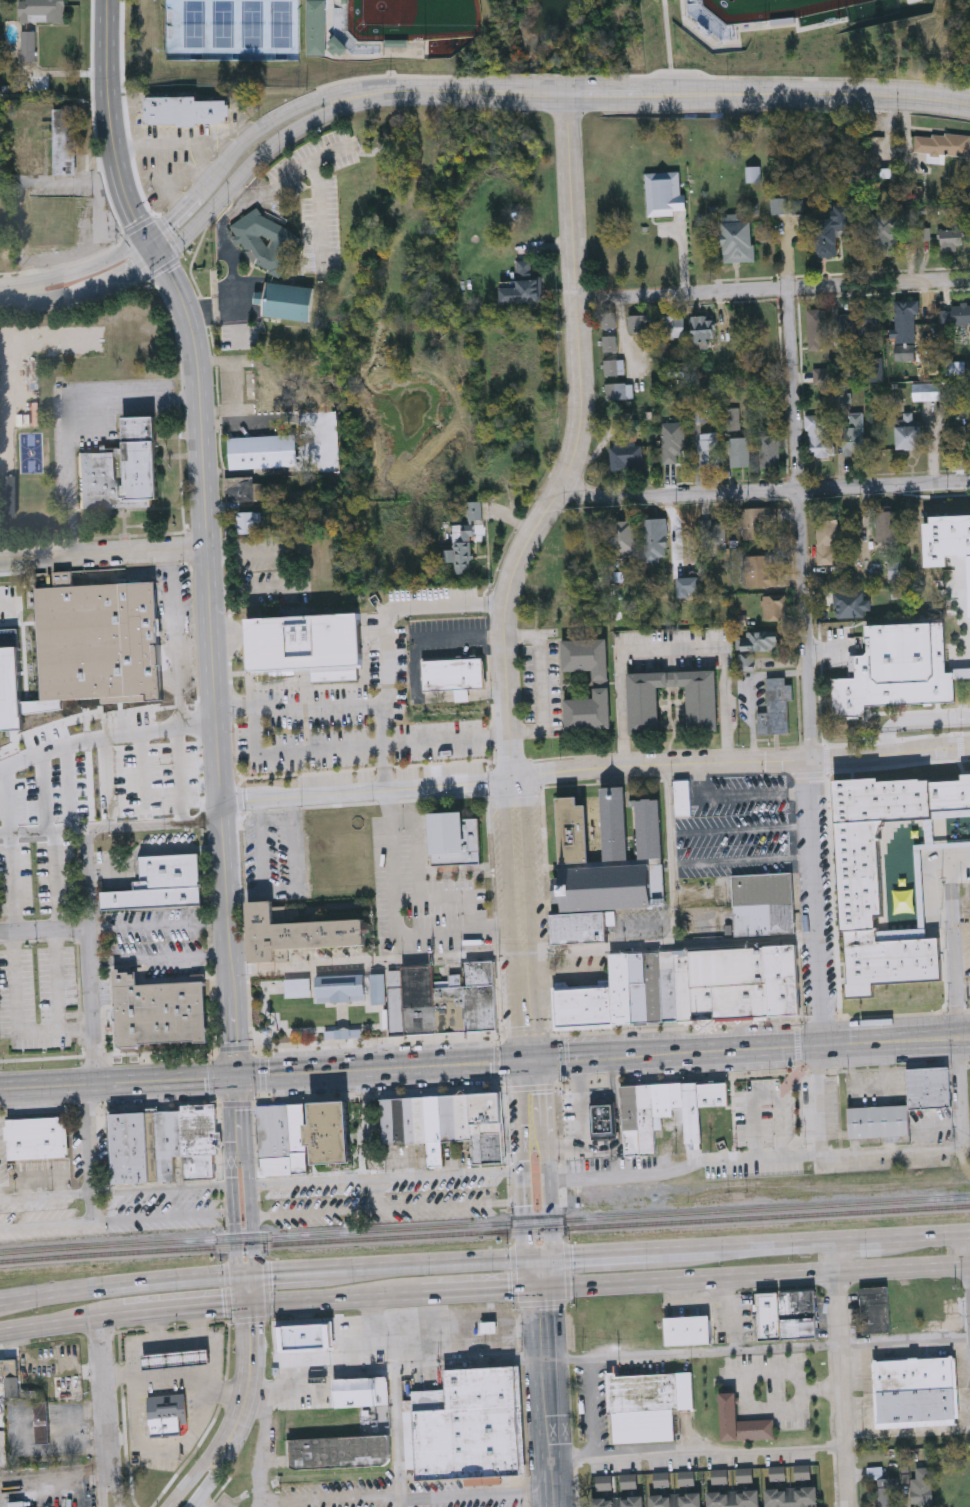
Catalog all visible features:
park: (770, 9)
building: (42, 10)
park: (414, 19)
building: (315, 29)
park: (231, 30)
road: (742, 32)
building: (28, 45)
road: (676, 94)
building: (185, 111)
building: (28, 123)
road: (112, 134)
road: (250, 136)
building: (64, 140)
building: (941, 145)
building: (28, 158)
road: (259, 160)
parking lot: (313, 162)
building: (752, 173)
building: (664, 192)
road: (238, 195)
road: (231, 215)
road: (320, 217)
building: (832, 230)
parking lot: (320, 231)
building: (885, 235)
building: (955, 238)
traffic signals: (148, 239)
building: (738, 239)
building: (260, 245)
building: (0, 247)
traffic signals: (159, 260)
building: (525, 268)
road: (83, 270)
road: (128, 274)
road: (773, 287)
road: (7, 292)
building: (528, 292)
road: (55, 297)
building: (286, 303)
building: (954, 315)
building: (906, 317)
building: (637, 322)
building: (856, 323)
building: (672, 325)
road: (235, 328)
building: (702, 328)
building: (817, 329)
building: (609, 332)
parking lot: (239, 337)
building: (614, 366)
building: (875, 369)
building: (619, 389)
road: (72, 418)
building: (908, 432)
building: (852, 434)
building: (818, 437)
building: (961, 437)
road: (578, 444)
building: (708, 450)
building: (262, 451)
building: (738, 451)
building: (769, 451)
building: (625, 455)
building: (122, 470)
building: (257, 489)
road: (766, 493)
building: (475, 512)
building: (249, 522)
building: (757, 522)
building: (887, 525)
building: (714, 536)
building: (622, 537)
building: (655, 538)
building: (946, 538)
building: (826, 541)
building: (462, 550)
road: (104, 551)
building: (896, 569)
building: (759, 570)
building: (850, 603)
building: (929, 604)
building: (774, 607)
road: (460, 638)
building: (305, 640)
building: (99, 642)
building: (754, 648)
road: (669, 651)
parking lot: (667, 652)
building: (586, 655)
road: (214, 664)
road: (803, 665)
building: (896, 668)
building: (453, 675)
road: (755, 679)
road: (539, 683)
road: (181, 684)
road: (388, 686)
road: (727, 705)
building: (644, 706)
building: (588, 709)
building: (776, 710)
road: (621, 711)
road: (912, 722)
road: (199, 723)
parking lot: (108, 725)
road: (87, 738)
road: (385, 742)
road: (751, 746)
road: (360, 747)
road: (741, 764)
road: (143, 778)
road: (107, 782)
road: (616, 782)
road: (90, 783)
road: (68, 788)
road: (367, 788)
road: (45, 792)
building: (682, 797)
building: (964, 798)
road: (736, 799)
road: (7, 800)
building: (889, 802)
road: (948, 807)
building: (614, 823)
road: (111, 827)
parking lot: (735, 827)
building: (649, 828)
building: (572, 829)
road: (739, 832)
building: (455, 839)
road: (152, 852)
parking lot: (274, 857)
road: (668, 857)
parking lot: (116, 861)
road: (960, 861)
road: (740, 862)
building: (891, 867)
parking lot: (38, 876)
parking lot: (517, 880)
road: (55, 881)
building: (162, 884)
building: (762, 887)
building: (604, 888)
road: (282, 891)
road: (532, 916)
road: (510, 917)
building: (764, 918)
parking lot: (151, 926)
road: (158, 928)
building: (295, 932)
road: (43, 933)
road: (453, 934)
road: (675, 945)
road: (954, 949)
road: (88, 956)
parking lot: (162, 960)
road: (159, 962)
road: (382, 962)
building: (481, 974)
road: (552, 977)
building: (782, 979)
road: (58, 983)
building: (721, 983)
building: (668, 986)
building: (341, 987)
building: (645, 987)
building: (621, 988)
road: (248, 993)
parking lot: (968, 993)
road: (963, 994)
building: (379, 997)
parking lot: (37, 998)
building: (419, 1001)
building: (396, 1003)
park: (317, 1006)
building: (584, 1006)
building: (488, 1008)
building: (473, 1009)
building: (451, 1010)
building: (158, 1012)
road: (18, 1017)
road: (553, 1022)
road: (673, 1029)
road: (526, 1032)
road: (375, 1040)
road: (754, 1047)
road: (798, 1047)
road: (125, 1055)
traffic signals: (540, 1059)
traffic signals: (519, 1060)
road: (495, 1061)
road: (555, 1061)
road: (387, 1068)
road: (617, 1069)
road: (577, 1071)
traffic signals: (235, 1077)
road: (262, 1079)
road: (676, 1080)
road: (117, 1082)
building: (928, 1087)
road: (529, 1088)
road: (768, 1090)
road: (597, 1094)
building: (714, 1094)
road: (960, 1099)
road: (304, 1100)
road: (821, 1102)
building: (658, 1114)
parking lot: (767, 1114)
building: (448, 1117)
building: (463, 1117)
road: (579, 1117)
building: (420, 1119)
building: (400, 1120)
building: (410, 1120)
building: (388, 1121)
building: (603, 1121)
building: (878, 1121)
building: (487, 1127)
building: (434, 1130)
building: (330, 1133)
road: (359, 1136)
building: (37, 1139)
building: (283, 1139)
building: (166, 1144)
road: (612, 1148)
road: (893, 1154)
road: (685, 1171)
parking lot: (757, 1174)
road: (547, 1175)
road: (524, 1177)
road: (388, 1181)
road: (252, 1189)
road: (232, 1191)
road: (115, 1194)
parking lot: (381, 1196)
parking lot: (383, 1198)
parking lot: (161, 1209)
road: (388, 1209)
parking lot: (41, 1216)
road: (116, 1222)
railway: (484, 1223)
railway: (484, 1232)
road: (928, 1234)
road: (860, 1238)
road: (749, 1245)
road: (609, 1253)
traffic signals: (554, 1256)
traffic signals: (528, 1257)
road: (276, 1271)
traffic signals: (255, 1273)
traffic signals: (236, 1274)
road: (757, 1276)
traffic signals: (545, 1291)
road: (483, 1294)
road: (338, 1301)
road: (248, 1307)
traffic signals: (256, 1307)
traffic signals: (240, 1308)
road: (182, 1311)
building: (798, 1314)
building: (768, 1316)
road: (62, 1324)
road: (198, 1325)
road: (154, 1328)
building: (687, 1330)
road: (182, 1340)
road: (759, 1348)
building: (175, 1360)
gas station: (175, 1360)
road: (505, 1360)
building: (9, 1368)
road: (843, 1373)
road: (102, 1379)
road: (172, 1379)
building: (361, 1390)
building: (917, 1391)
road: (396, 1397)
road: (549, 1398)
building: (647, 1404)
road: (137, 1407)
building: (167, 1414)
road: (249, 1415)
road: (202, 1416)
road: (232, 1417)
building: (41, 1422)
building: (741, 1422)
building: (468, 1426)
road: (262, 1446)
building: (339, 1450)
road: (154, 1451)
road: (699, 1453)
road: (102, 1474)
road: (109, 1474)
building: (922, 1486)
building: (887, 1492)
parking lot: (338, 1494)
parking lot: (460, 1496)
building: (792, 1497)
building: (734, 1498)
road: (406, 1499)
building: (676, 1499)
building: (618, 1501)
road: (203, 1502)

